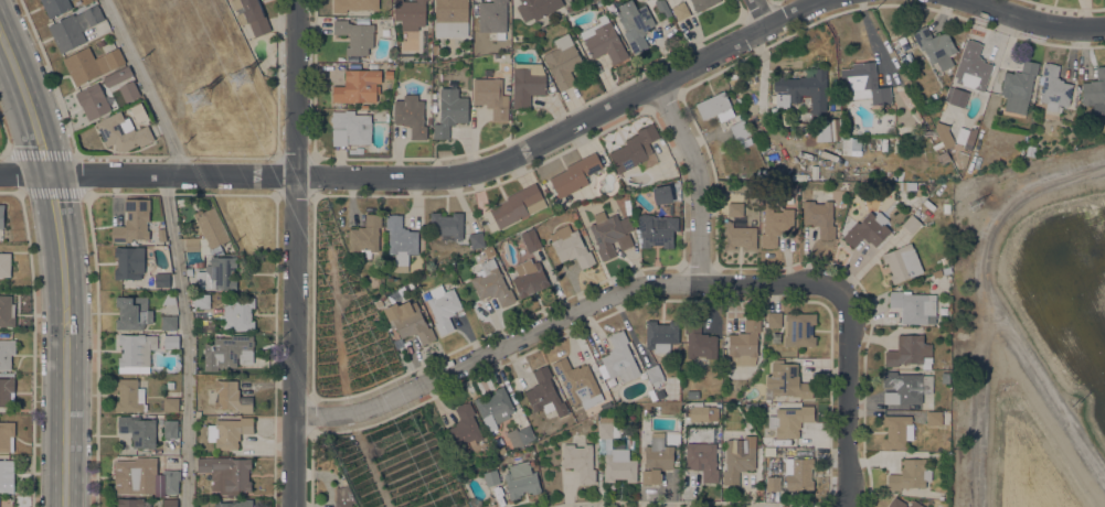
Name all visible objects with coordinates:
building: (702, 3)
building: (354, 4)
building: (55, 7)
building: (536, 8)
building: (681, 10)
building: (666, 11)
road: (761, 12)
building: (411, 13)
building: (252, 14)
building: (493, 17)
building: (451, 18)
road: (1037, 19)
building: (635, 23)
building: (74, 28)
building: (355, 35)
building: (604, 40)
building: (902, 40)
building: (100, 43)
building: (935, 45)
road: (11, 57)
building: (562, 60)
building: (92, 64)
building: (971, 65)
building: (389, 74)
building: (117, 76)
power tower: (242, 79)
building: (527, 83)
building: (863, 83)
building: (358, 86)
building: (1018, 86)
road: (147, 87)
building: (1054, 87)
building: (805, 88)
building: (128, 90)
building: (115, 91)
building: (1095, 91)
building: (491, 96)
building: (955, 96)
power tower: (202, 98)
building: (905, 98)
building: (93, 101)
building: (450, 111)
building: (723, 114)
building: (411, 115)
building: (350, 128)
road: (36, 129)
building: (835, 129)
building: (851, 130)
building: (121, 132)
building: (923, 132)
building: (944, 132)
building: (961, 136)
road: (6, 138)
building: (847, 144)
building: (634, 148)
building: (357, 150)
building: (1031, 152)
building: (575, 174)
building: (758, 174)
road: (432, 176)
road: (700, 179)
building: (661, 194)
power tower: (977, 202)
building: (518, 205)
building: (946, 207)
building: (735, 208)
building: (819, 214)
building: (1, 215)
road: (57, 219)
building: (132, 220)
building: (775, 223)
building: (911, 223)
building: (447, 225)
building: (658, 227)
building: (868, 229)
building: (208, 233)
building: (610, 233)
building: (161, 234)
building: (365, 236)
building: (739, 236)
building: (476, 239)
building: (530, 240)
building: (401, 241)
building: (571, 246)
building: (489, 250)
road: (294, 252)
building: (945, 259)
building: (129, 262)
building: (902, 262)
building: (4, 263)
building: (200, 263)
building: (946, 270)
building: (189, 272)
building: (216, 272)
building: (530, 277)
building: (161, 279)
building: (491, 283)
building: (169, 299)
building: (201, 300)
building: (913, 305)
building: (443, 306)
building: (7, 311)
building: (132, 312)
building: (238, 313)
road: (564, 316)
building: (774, 319)
building: (410, 321)
building: (169, 322)
building: (208, 324)
building: (798, 328)
building: (661, 335)
road: (188, 339)
building: (699, 339)
building: (171, 341)
building: (744, 343)
building: (229, 350)
building: (910, 350)
building: (135, 352)
building: (7, 353)
building: (619, 358)
building: (655, 375)
building: (785, 380)
building: (577, 381)
building: (170, 384)
road: (66, 386)
building: (905, 387)
building: (6, 390)
building: (544, 392)
building: (692, 393)
building: (129, 395)
building: (651, 395)
building: (231, 396)
building: (171, 403)
road: (849, 403)
power tower: (1079, 406)
building: (493, 407)
building: (702, 412)
building: (934, 418)
building: (790, 420)
building: (747, 424)
building: (170, 428)
building: (464, 428)
building: (140, 430)
building: (897, 430)
building: (229, 431)
building: (7, 435)
building: (520, 435)
building: (500, 450)
building: (614, 452)
building: (656, 457)
building: (739, 457)
building: (768, 457)
building: (702, 460)
road: (369, 461)
building: (580, 461)
building: (226, 473)
building: (798, 473)
building: (910, 474)
building: (7, 475)
building: (144, 476)
building: (491, 477)
building: (521, 478)
building: (773, 483)
building: (341, 496)
building: (170, 501)
building: (130, 503)
building: (235, 503)
building: (896, 503)
building: (915, 504)

